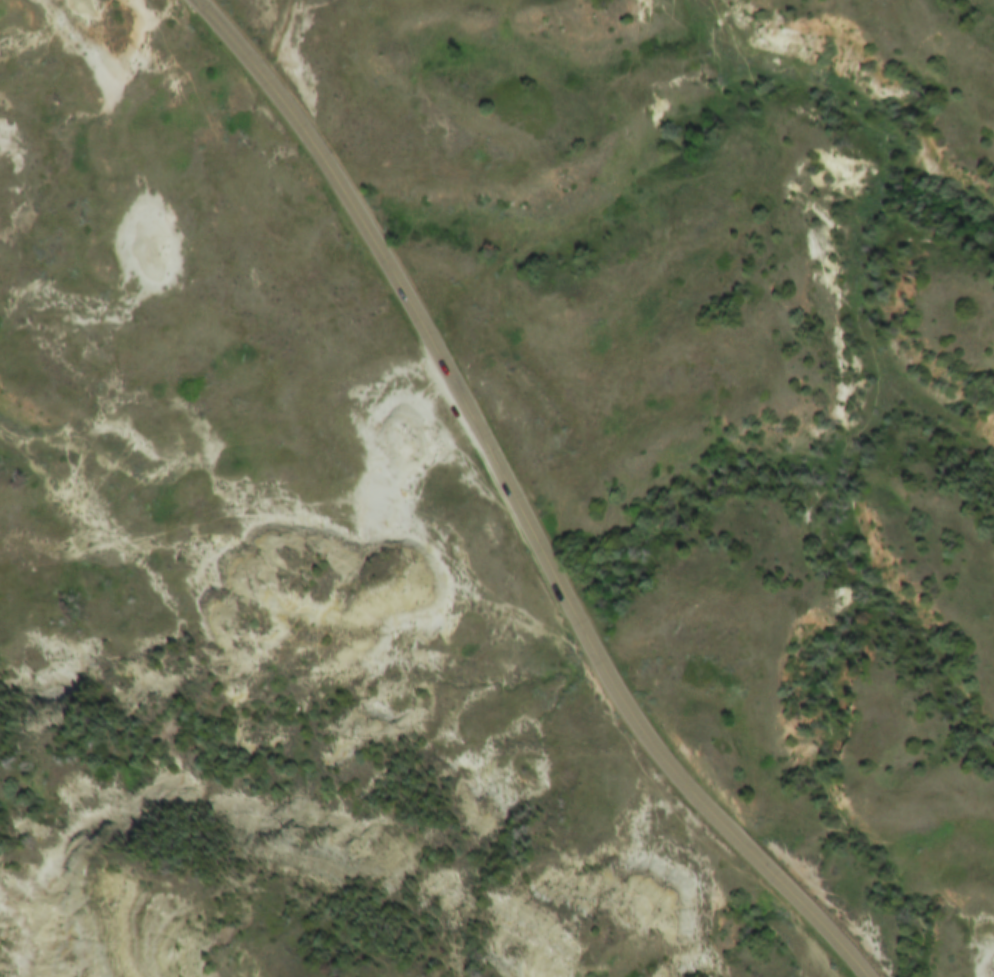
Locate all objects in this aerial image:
road: (513, 502)

